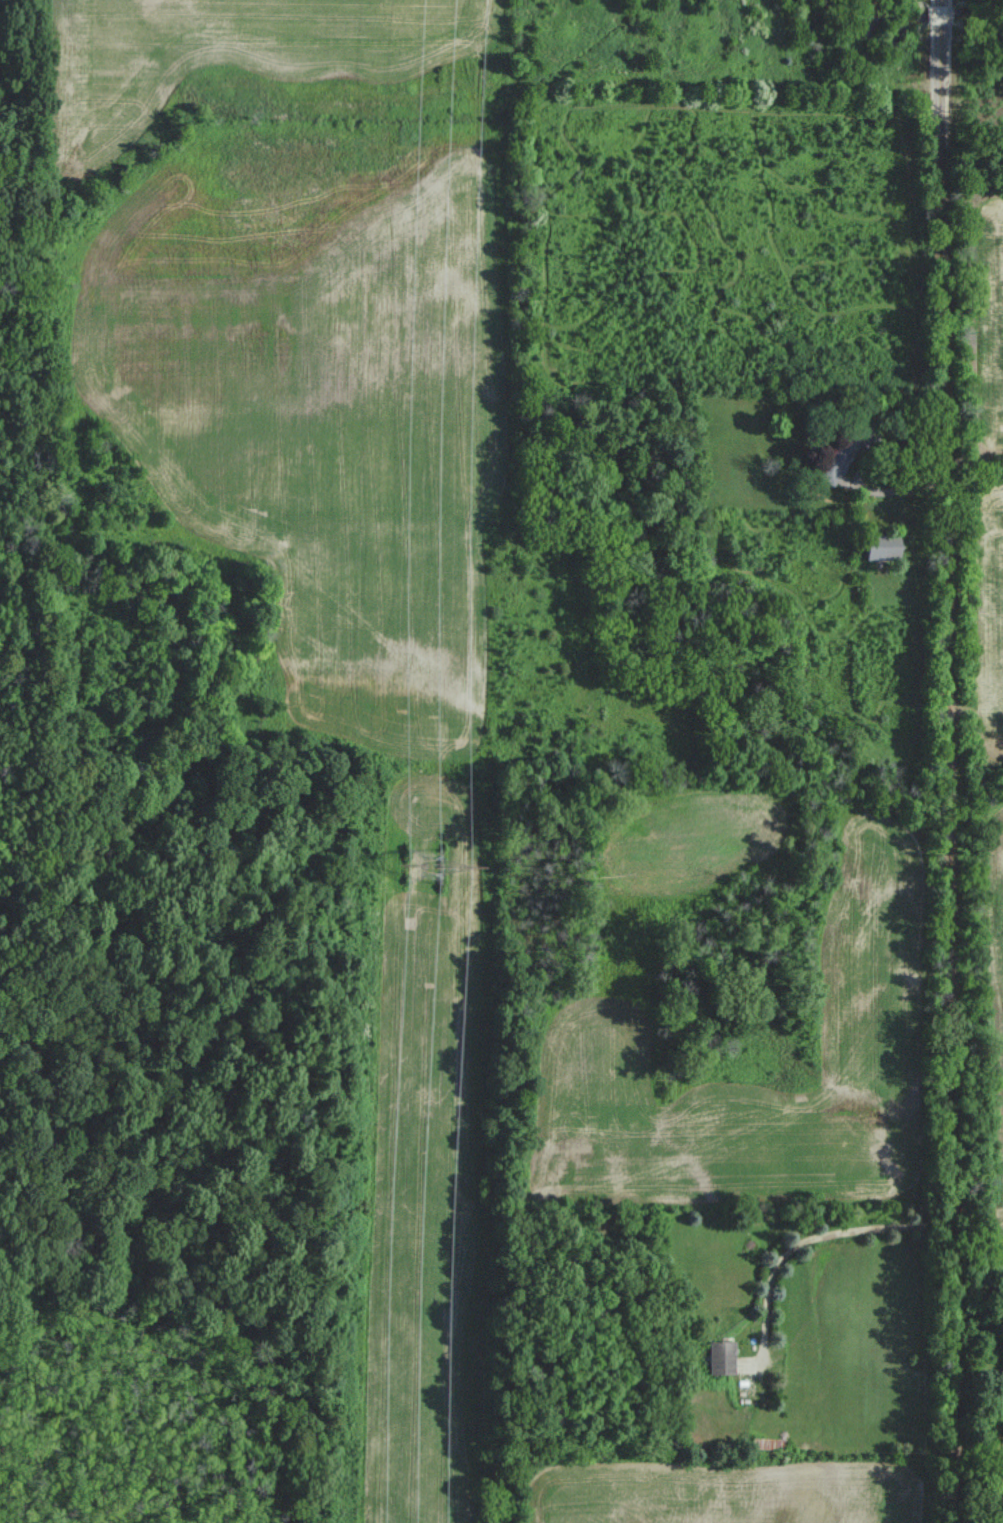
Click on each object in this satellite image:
building: (834, 459)
building: (883, 545)
road: (954, 761)
power tower: (423, 866)
road: (819, 1235)
building: (721, 1356)

